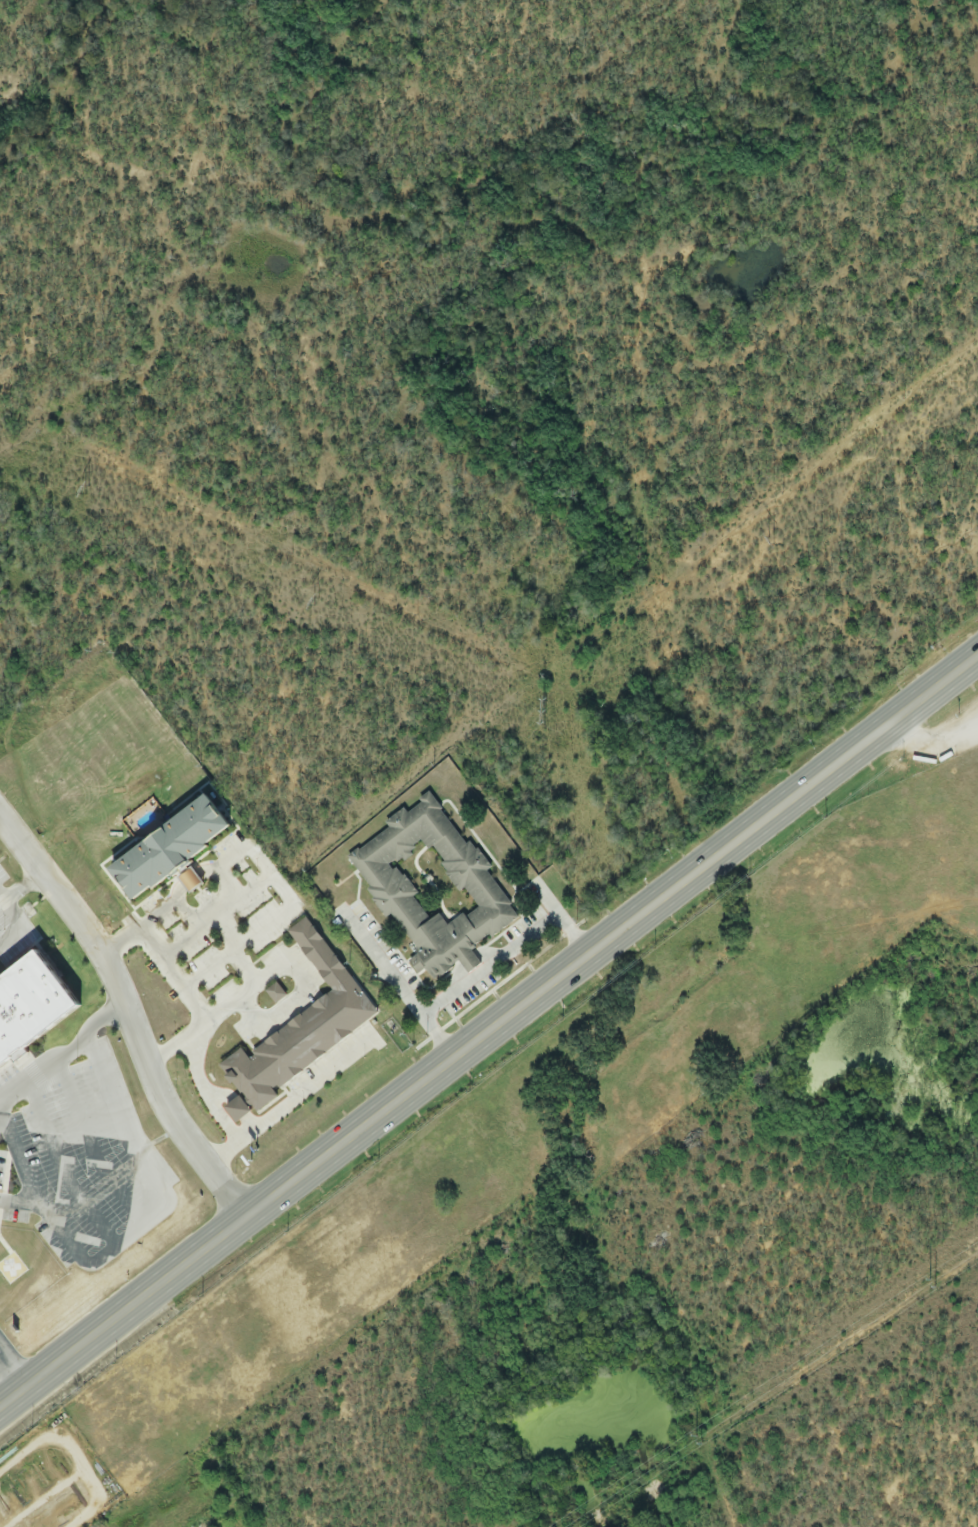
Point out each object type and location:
power tower: (89, 490)
power tower: (771, 541)
power tower: (548, 712)
road: (932, 744)
road: (820, 776)
building: (158, 850)
building: (192, 882)
building: (433, 889)
road: (488, 967)
building: (276, 993)
building: (32, 1005)
road: (128, 1012)
road: (198, 1029)
building: (300, 1033)
road: (62, 1051)
road: (174, 1051)
road: (86, 1137)
road: (331, 1153)
road: (13, 1178)
road: (50, 1196)
road: (145, 1207)
power tower: (936, 1280)
road: (22, 1379)
power tower: (646, 1475)

